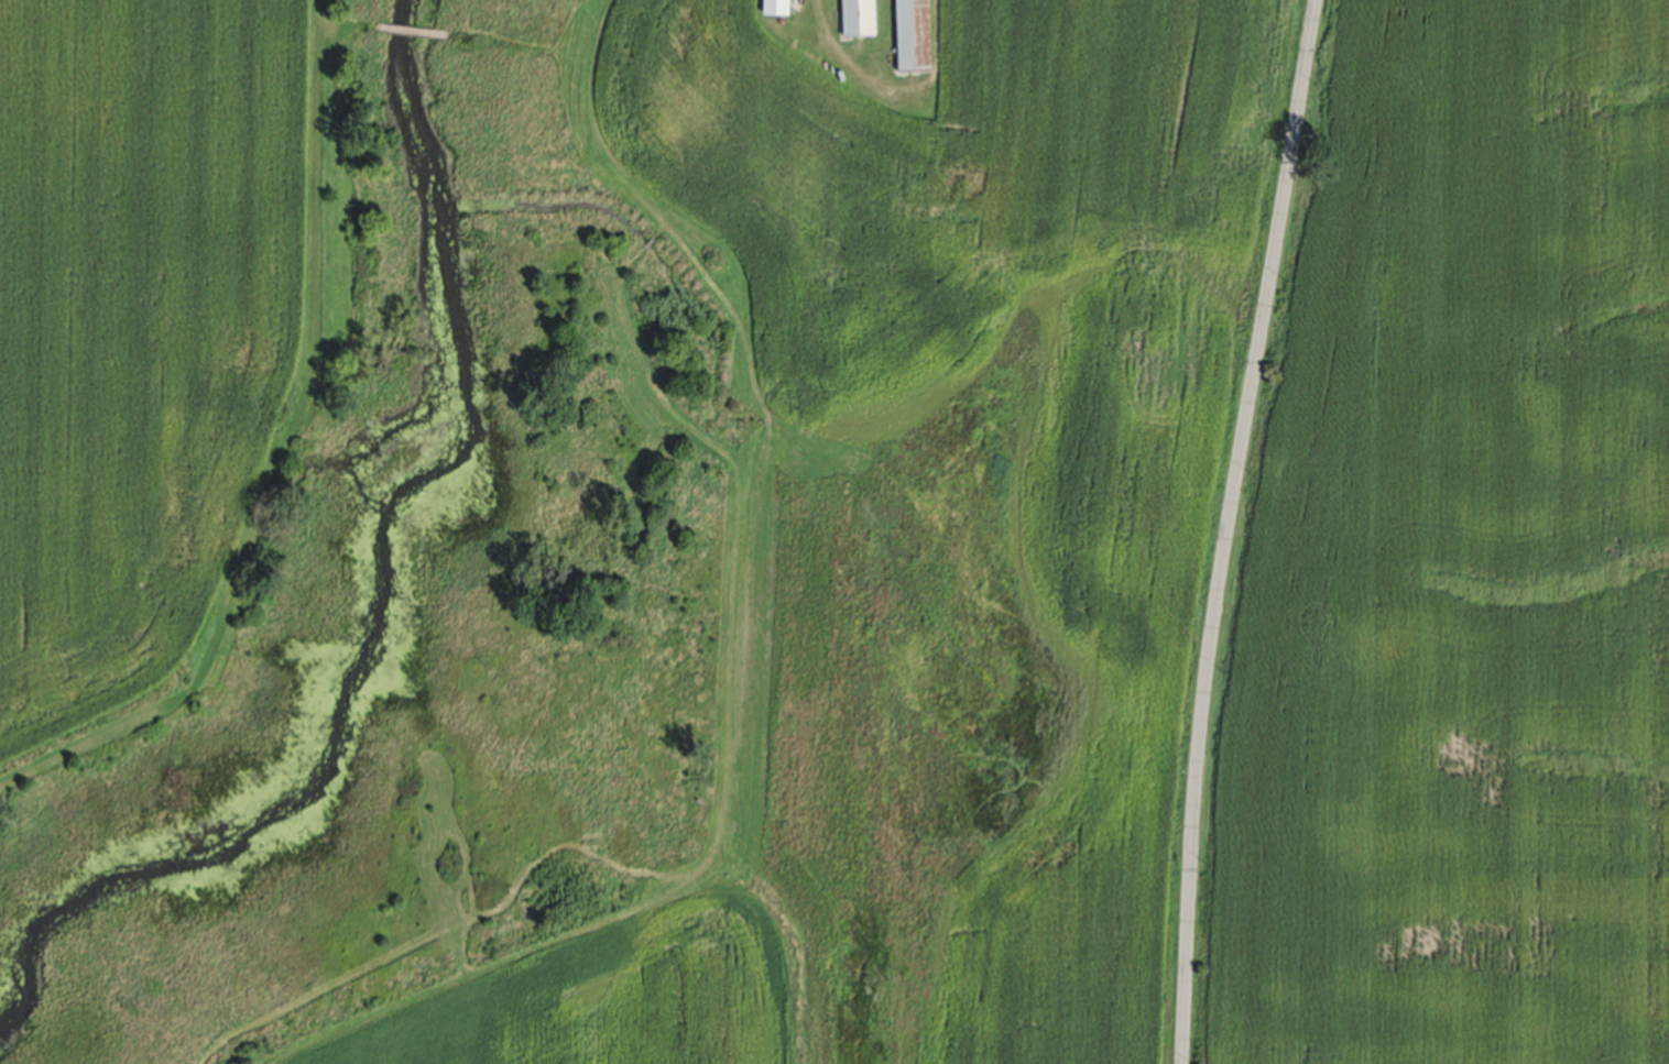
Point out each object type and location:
building: (775, 8)
building: (859, 17)
building: (914, 34)
road: (1229, 529)

